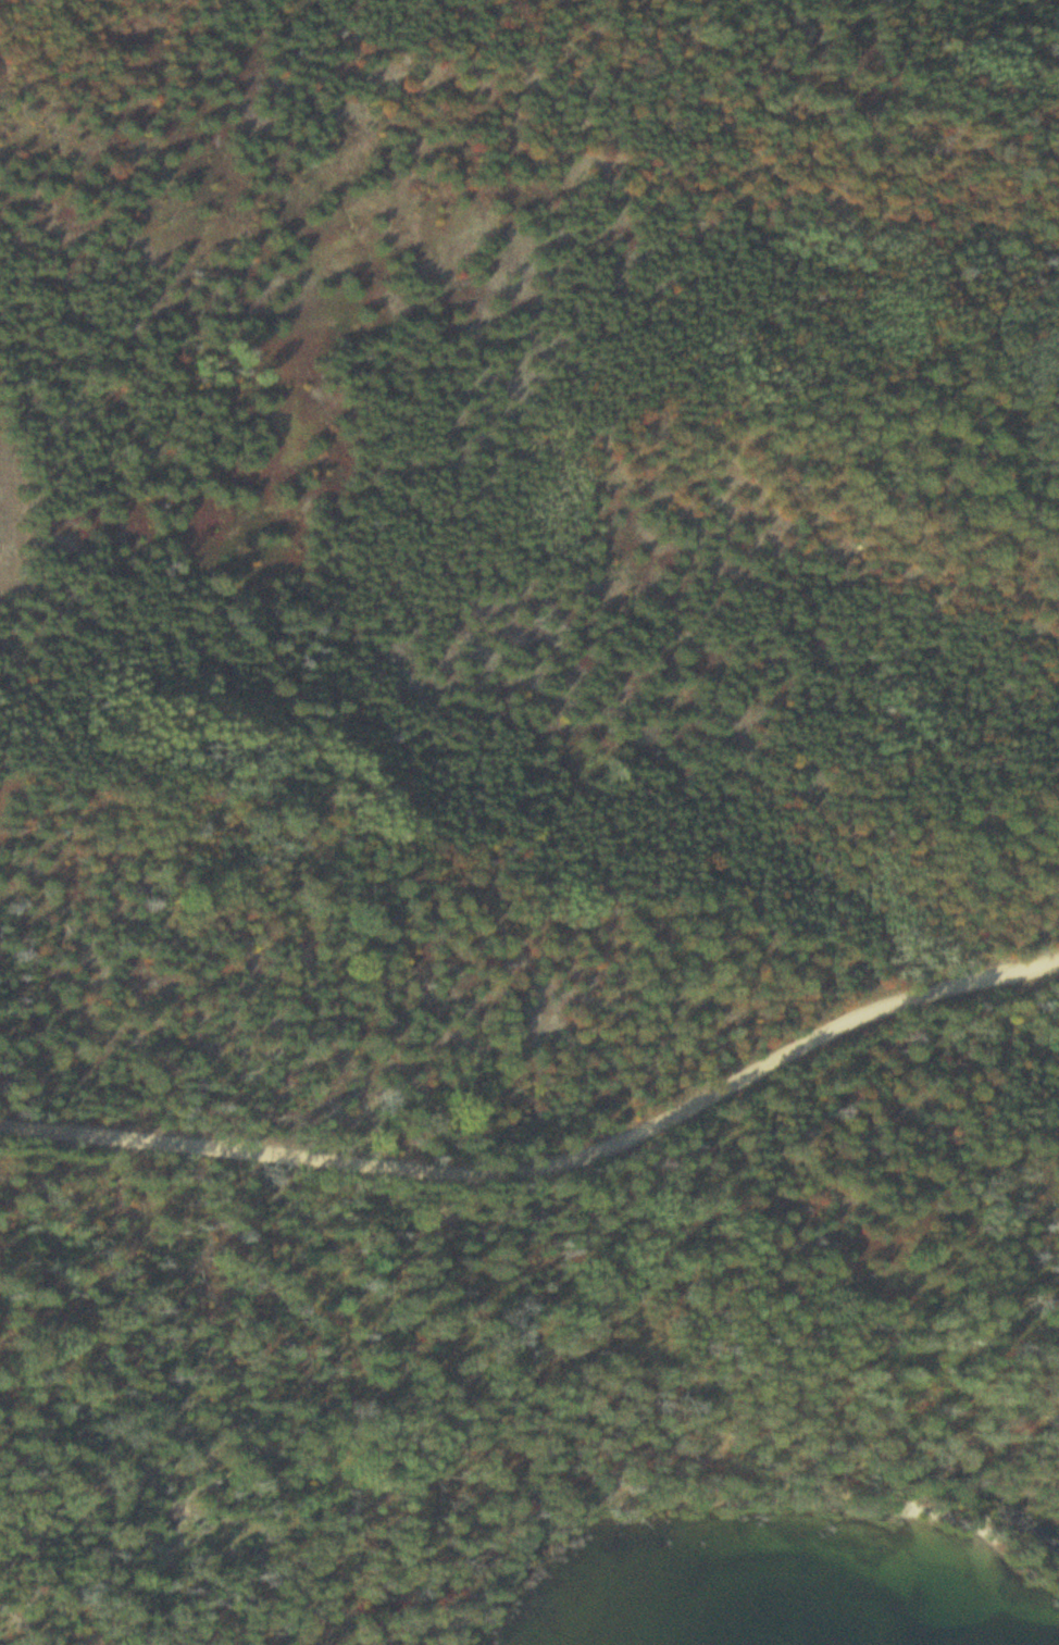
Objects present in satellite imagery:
road: (546, 1157)

